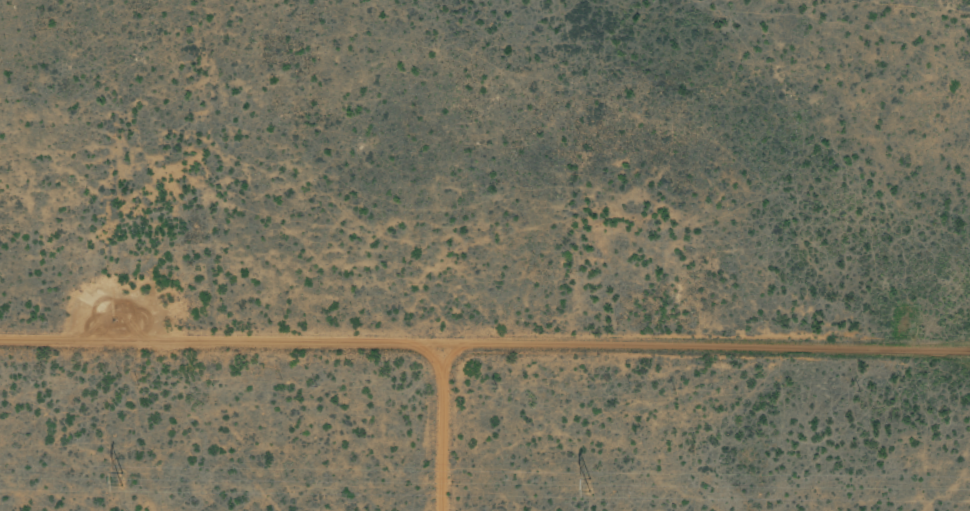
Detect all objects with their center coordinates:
power tower: (123, 476)
power tower: (590, 482)

